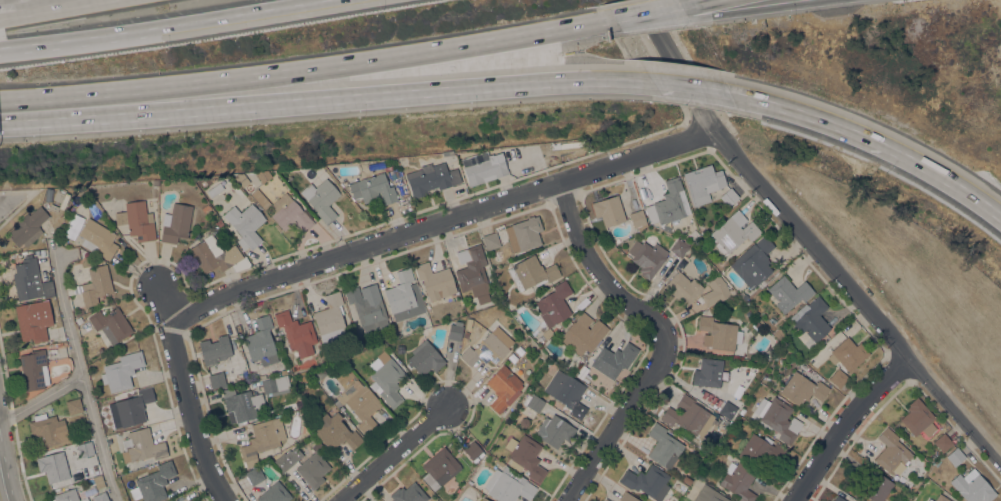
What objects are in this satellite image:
road: (701, 4)
road: (39, 6)
road: (763, 10)
road: (238, 14)
road: (650, 14)
road: (610, 22)
road: (655, 22)
road: (611, 24)
road: (75, 38)
road: (301, 73)
road: (678, 82)
road: (313, 97)
road: (1, 118)
road: (873, 138)
building: (447, 153)
building: (483, 166)
building: (263, 174)
building: (242, 178)
building: (431, 178)
building: (156, 182)
building: (703, 183)
building: (215, 189)
building: (374, 189)
building: (259, 197)
building: (729, 197)
building: (58, 199)
building: (321, 199)
road: (5, 200)
building: (667, 204)
building: (205, 208)
building: (609, 210)
building: (290, 214)
building: (637, 218)
building: (136, 220)
road: (444, 222)
building: (176, 224)
building: (245, 224)
building: (28, 227)
building: (666, 228)
building: (524, 233)
building: (732, 233)
building: (693, 234)
building: (98, 238)
building: (491, 240)
road: (810, 240)
building: (679, 247)
building: (214, 256)
building: (647, 257)
building: (753, 262)
building: (472, 272)
building: (531, 273)
building: (29, 280)
building: (435, 280)
building: (93, 285)
building: (683, 288)
building: (716, 291)
building: (789, 293)
building: (743, 295)
building: (404, 296)
building: (367, 306)
building: (554, 306)
building: (53, 307)
building: (330, 318)
building: (772, 319)
building: (811, 319)
building: (31, 322)
building: (110, 324)
building: (757, 324)
building: (455, 330)
building: (296, 333)
building: (583, 333)
building: (719, 333)
building: (465, 334)
building: (779, 334)
road: (663, 336)
building: (261, 342)
building: (215, 349)
building: (519, 350)
building: (485, 351)
building: (848, 354)
building: (512, 357)
building: (425, 358)
building: (614, 359)
building: (813, 359)
building: (34, 369)
road: (81, 369)
building: (122, 370)
building: (708, 372)
building: (239, 378)
building: (838, 378)
building: (387, 379)
building: (217, 380)
building: (275, 385)
building: (504, 388)
building: (802, 388)
building: (567, 392)
road: (188, 395)
road: (41, 396)
building: (533, 402)
building: (360, 403)
building: (241, 405)
building: (74, 406)
building: (130, 408)
building: (809, 409)
building: (727, 410)
building: (689, 416)
building: (778, 418)
building: (918, 418)
road: (844, 424)
building: (47, 429)
building: (554, 430)
building: (335, 431)
building: (715, 435)
building: (262, 439)
building: (943, 442)
building: (141, 446)
building: (664, 446)
building: (85, 449)
building: (473, 450)
building: (761, 450)
road: (397, 454)
building: (525, 456)
building: (894, 456)
building: (955, 456)
building: (285, 460)
building: (498, 462)
building: (53, 466)
building: (313, 467)
building: (440, 467)
building: (696, 468)
building: (254, 475)
building: (687, 480)
building: (647, 481)
building: (738, 481)
building: (99, 482)
building: (153, 483)
building: (508, 485)
building: (972, 486)
building: (877, 487)
road: (2, 488)
building: (711, 489)
building: (274, 493)
building: (408, 493)
building: (68, 496)
building: (100, 497)
building: (628, 497)
building: (717, 497)
building: (838, 498)
building: (941, 498)
building: (484, 499)
building: (170, 500)
building: (606, 500)
building: (930, 500)

